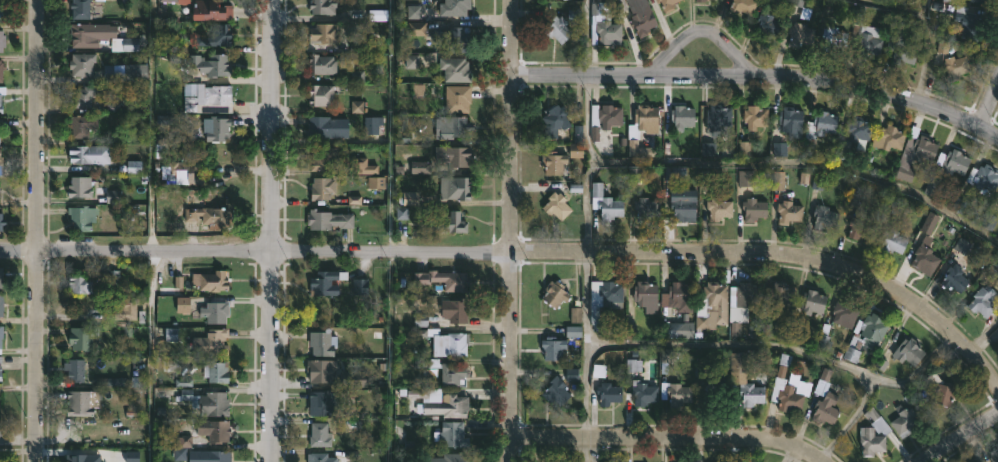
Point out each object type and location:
building: (558, 0)
building: (700, 0)
building: (976, 0)
building: (662, 5)
building: (321, 6)
building: (739, 6)
building: (453, 7)
road: (894, 7)
building: (79, 8)
building: (2, 10)
building: (212, 10)
building: (604, 22)
building: (641, 23)
building: (768, 25)
building: (969, 25)
building: (556, 29)
road: (703, 31)
building: (798, 33)
building: (86, 34)
building: (324, 35)
building: (865, 35)
building: (215, 36)
building: (833, 38)
building: (453, 39)
building: (1, 40)
building: (899, 42)
road: (926, 48)
building: (81, 64)
building: (211, 64)
building: (322, 65)
building: (955, 66)
building: (2, 69)
building: (454, 70)
building: (129, 72)
road: (758, 76)
building: (217, 94)
building: (320, 95)
building: (82, 96)
building: (457, 99)
building: (0, 103)
road: (990, 107)
building: (717, 116)
building: (754, 116)
building: (681, 117)
building: (604, 119)
building: (0, 121)
building: (791, 121)
building: (553, 122)
building: (81, 124)
building: (821, 124)
road: (36, 125)
road: (399, 125)
building: (640, 125)
building: (326, 126)
building: (450, 127)
building: (215, 129)
building: (857, 129)
building: (0, 133)
building: (888, 138)
building: (88, 153)
building: (915, 154)
building: (1, 155)
building: (453, 156)
building: (322, 157)
building: (549, 162)
building: (953, 162)
building: (361, 166)
road: (805, 168)
road: (590, 171)
building: (179, 173)
building: (983, 179)
building: (81, 186)
building: (319, 187)
building: (454, 188)
building: (0, 189)
building: (604, 203)
building: (556, 206)
building: (645, 209)
building: (682, 209)
building: (718, 209)
building: (753, 209)
building: (786, 211)
building: (207, 216)
building: (990, 216)
building: (81, 217)
building: (825, 217)
building: (327, 220)
building: (3, 221)
building: (446, 223)
building: (859, 227)
road: (153, 231)
road: (277, 231)
road: (510, 231)
building: (892, 242)
road: (18, 249)
road: (539, 251)
building: (925, 257)
building: (1, 278)
building: (954, 279)
building: (210, 280)
building: (442, 280)
building: (324, 283)
building: (85, 284)
building: (174, 286)
building: (361, 289)
building: (554, 294)
building: (610, 294)
building: (645, 296)
building: (679, 296)
building: (747, 296)
building: (779, 296)
building: (983, 300)
building: (812, 303)
building: (0, 304)
building: (712, 304)
building: (122, 308)
building: (454, 310)
building: (216, 312)
building: (844, 313)
building: (0, 329)
building: (872, 329)
building: (574, 332)
building: (82, 337)
building: (445, 342)
building: (210, 343)
building: (322, 343)
road: (737, 344)
building: (854, 345)
building: (551, 347)
building: (908, 351)
road: (35, 356)
building: (0, 358)
building: (739, 364)
building: (73, 370)
building: (319, 370)
building: (218, 372)
building: (446, 372)
building: (2, 376)
building: (351, 378)
building: (784, 389)
building: (939, 389)
building: (555, 391)
building: (673, 392)
building: (607, 393)
building: (643, 393)
building: (750, 394)
building: (714, 397)
building: (824, 400)
building: (321, 402)
building: (442, 402)
building: (82, 403)
building: (206, 403)
building: (904, 421)
building: (1, 430)
building: (212, 431)
building: (450, 434)
building: (319, 435)
road: (670, 436)
road: (963, 437)
building: (870, 442)
road: (585, 448)
road: (794, 454)
building: (994, 455)
building: (207, 456)
building: (453, 457)
building: (78, 458)
building: (318, 458)
building: (972, 461)

